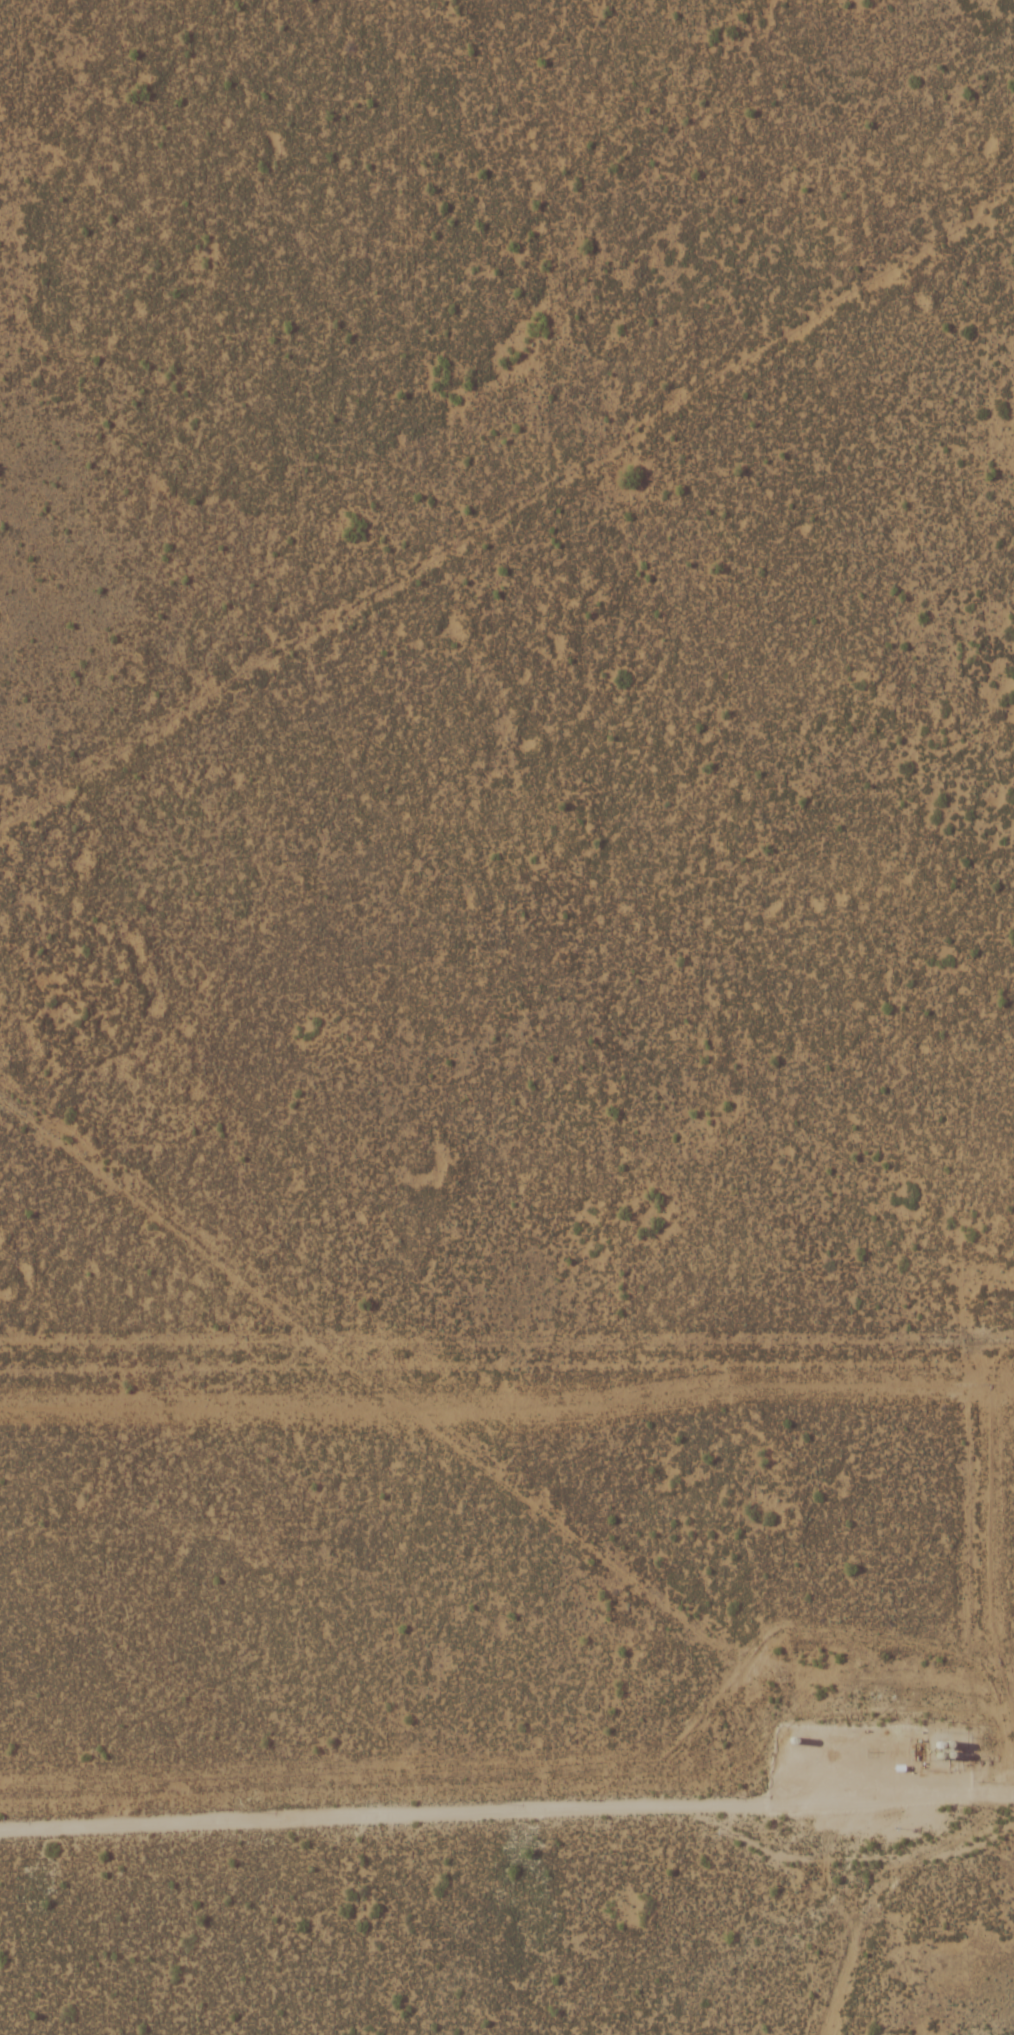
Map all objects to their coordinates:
petroleum well: (867, 1751)
road: (506, 1807)

